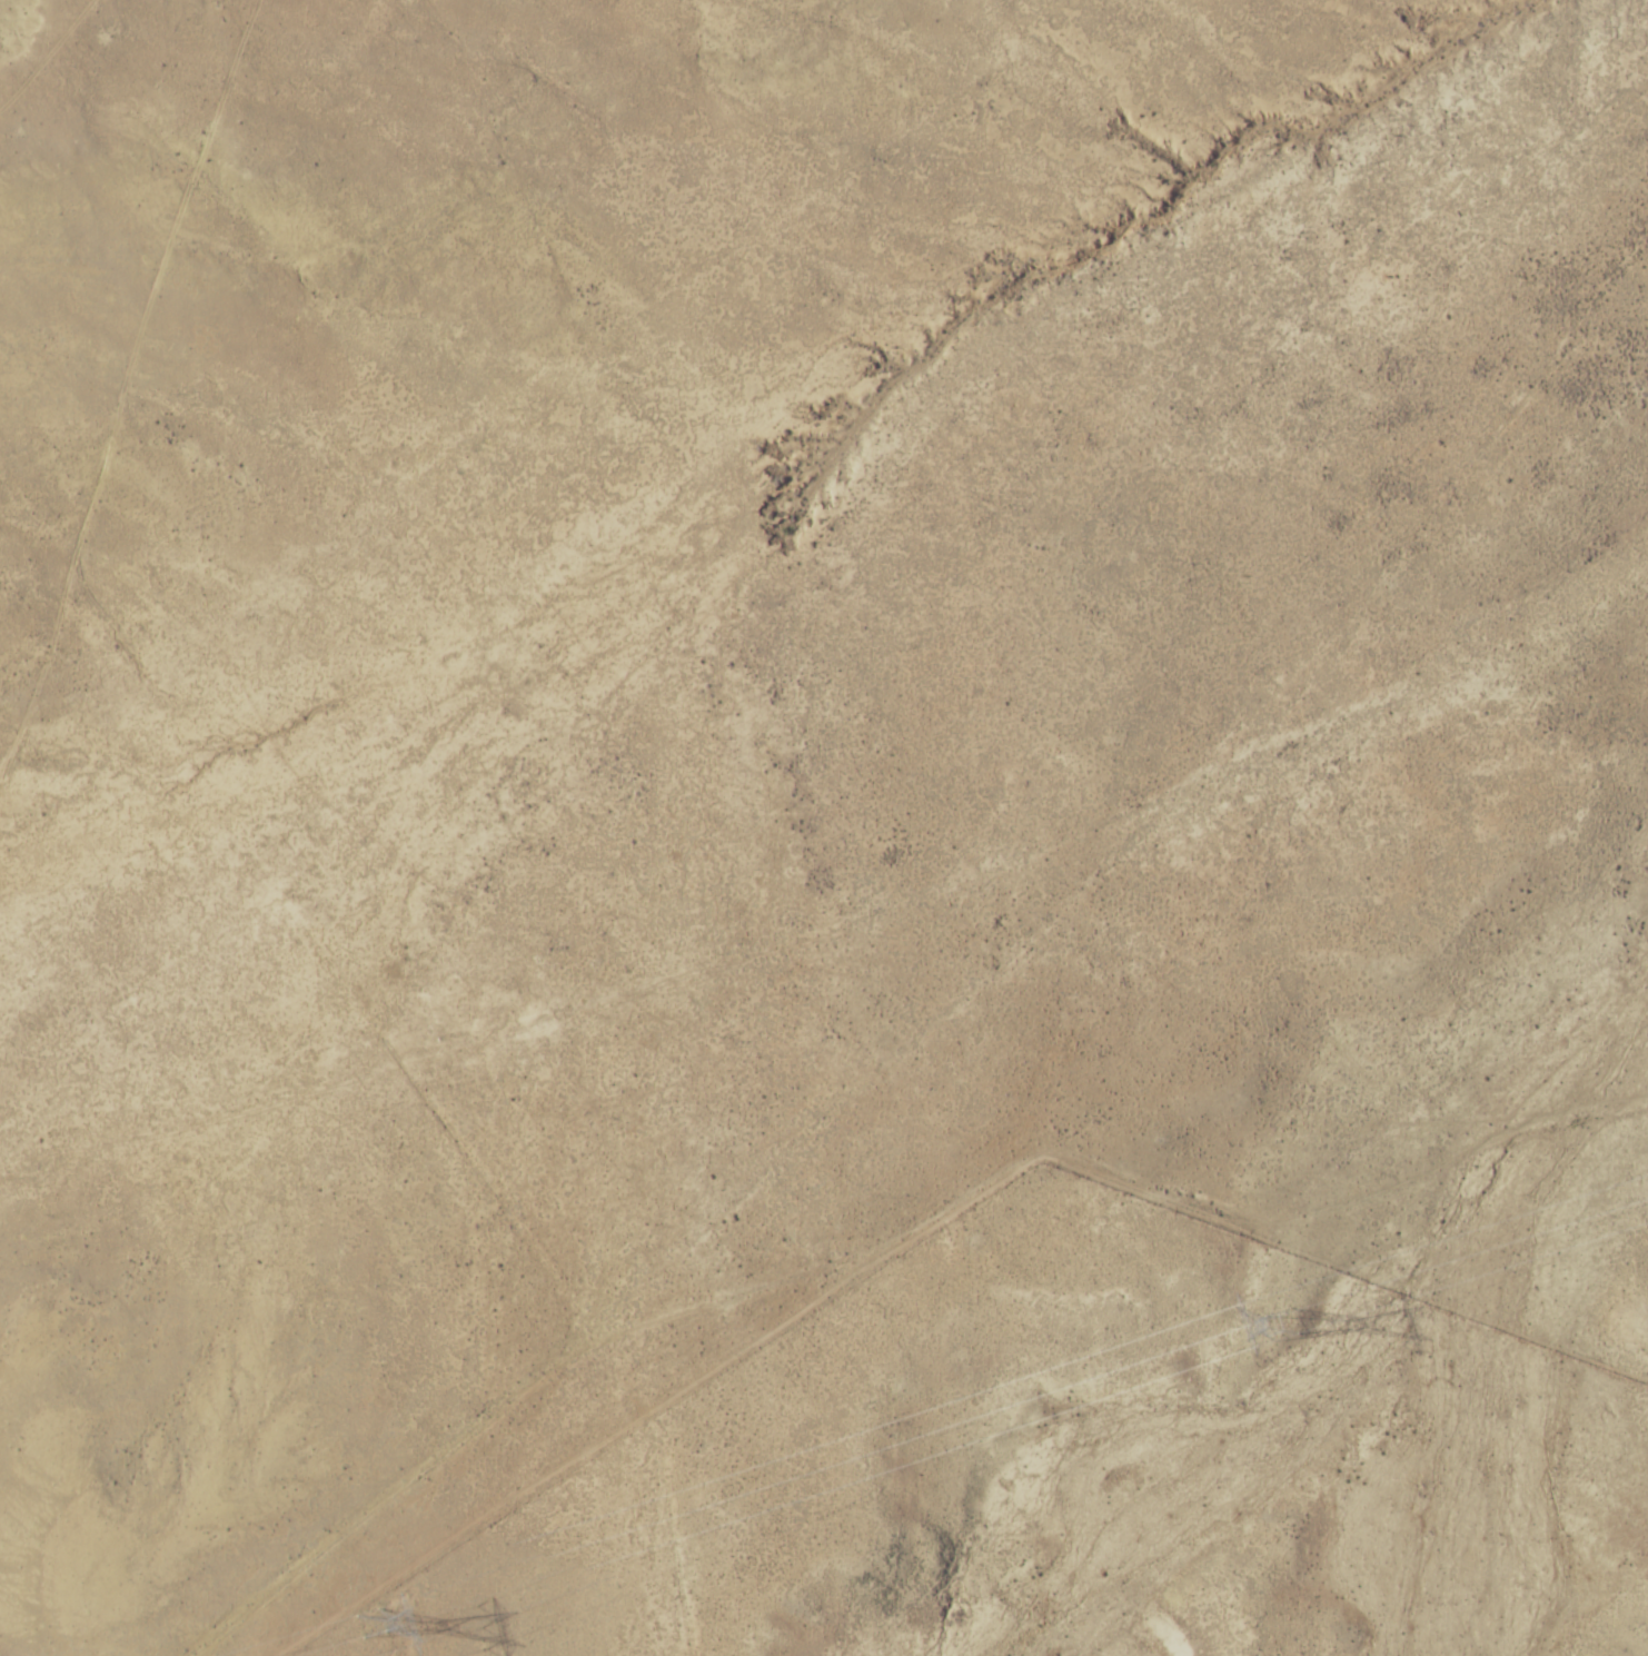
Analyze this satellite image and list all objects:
road: (159, 398)
road: (866, 1069)
road: (1059, 1203)
power tower: (1273, 1320)
power tower: (365, 1623)

